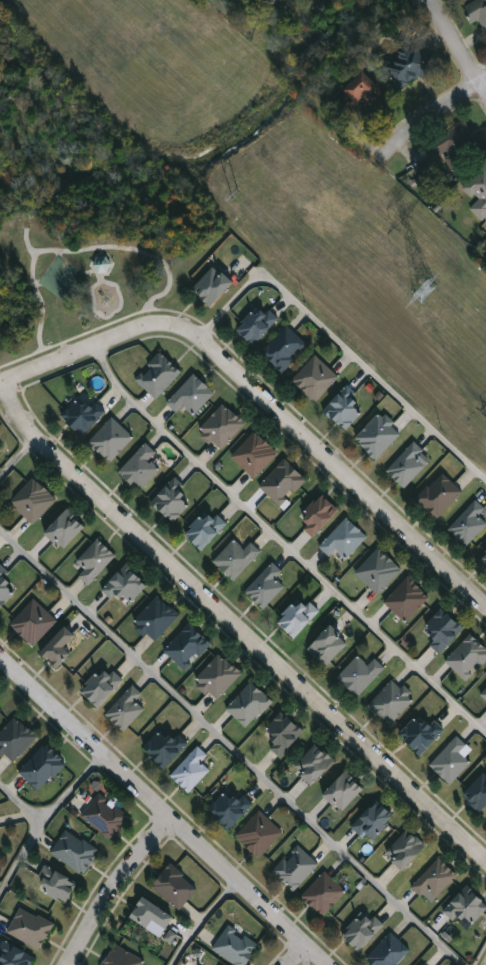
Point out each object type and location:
building: (271, 1)
building: (477, 12)
road: (457, 47)
building: (412, 65)
road: (482, 79)
building: (362, 98)
road: (423, 117)
building: (458, 146)
building: (478, 192)
building: (103, 263)
building: (212, 285)
power tower: (430, 290)
building: (257, 324)
road: (337, 340)
road: (86, 347)
building: (284, 348)
building: (158, 375)
building: (315, 378)
building: (191, 395)
building: (346, 408)
building: (83, 415)
building: (222, 426)
building: (378, 436)
building: (111, 439)
building: (0, 447)
building: (0, 449)
building: (254, 454)
road: (18, 460)
building: (409, 464)
building: (140, 467)
road: (330, 467)
building: (283, 483)
building: (440, 495)
building: (33, 500)
building: (173, 500)
building: (318, 514)
building: (469, 523)
building: (65, 529)
building: (205, 530)
building: (343, 539)
road: (283, 543)
building: (484, 558)
building: (236, 559)
building: (95, 561)
building: (378, 571)
building: (14, 581)
building: (265, 586)
building: (125, 587)
building: (407, 599)
building: (298, 616)
building: (156, 618)
building: (34, 622)
road: (236, 624)
building: (443, 630)
building: (327, 646)
building: (58, 647)
building: (188, 647)
building: (467, 658)
building: (360, 675)
building: (218, 677)
building: (102, 686)
building: (483, 692)
building: (391, 702)
building: (249, 705)
building: (125, 710)
building: (283, 733)
building: (421, 734)
building: (15, 739)
road: (232, 747)
building: (165, 748)
building: (451, 761)
building: (314, 764)
building: (42, 768)
building: (191, 770)
building: (343, 791)
building: (477, 793)
road: (20, 803)
building: (230, 808)
road: (159, 814)
building: (105, 816)
road: (43, 820)
building: (373, 820)
building: (259, 834)
building: (406, 849)
building: (75, 851)
building: (295, 867)
building: (434, 879)
building: (56, 884)
building: (175, 886)
road: (112, 891)
building: (324, 893)
building: (466, 906)
building: (151, 914)
road: (200, 922)
building: (30, 928)
building: (363, 930)
building: (235, 946)
building: (389, 951)
building: (15, 956)
building: (123, 957)
road: (297, 959)
building: (422, 964)
building: (424, 964)

